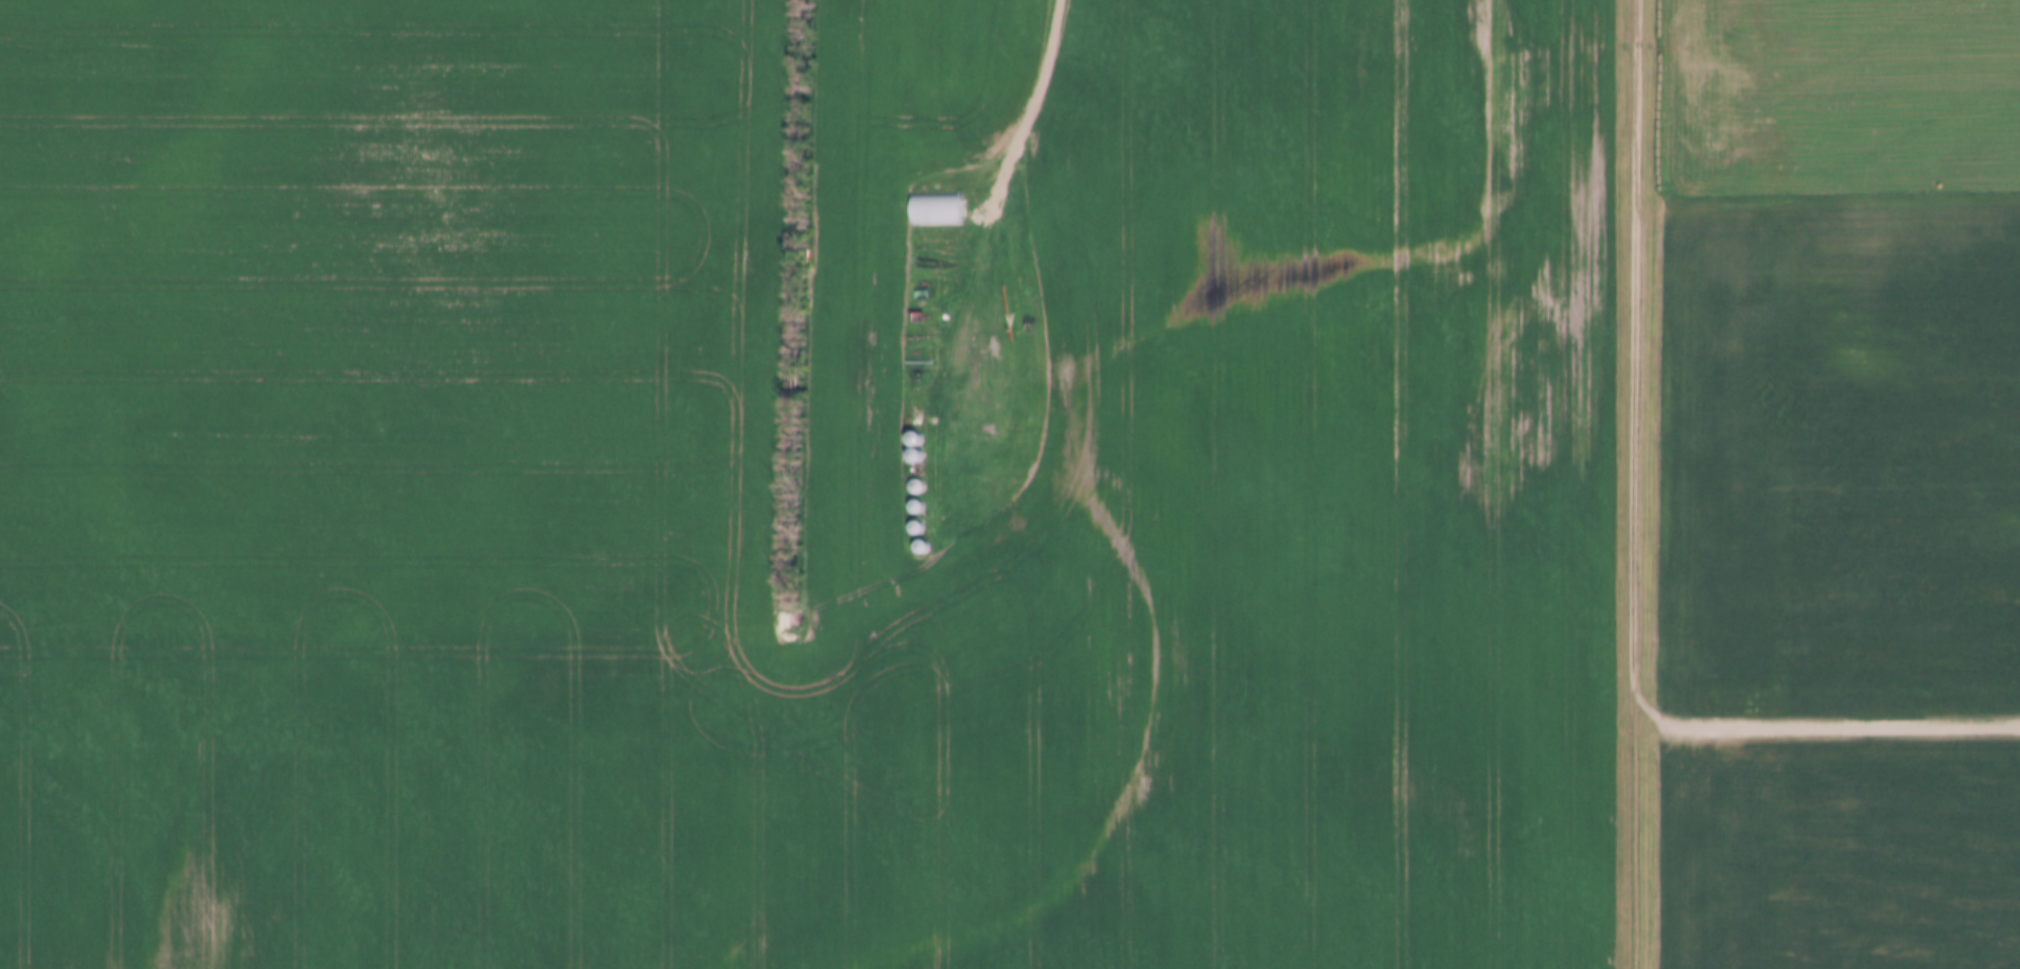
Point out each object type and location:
road: (1038, 100)
building: (933, 208)
building: (915, 438)
building: (916, 485)
road: (1640, 555)

